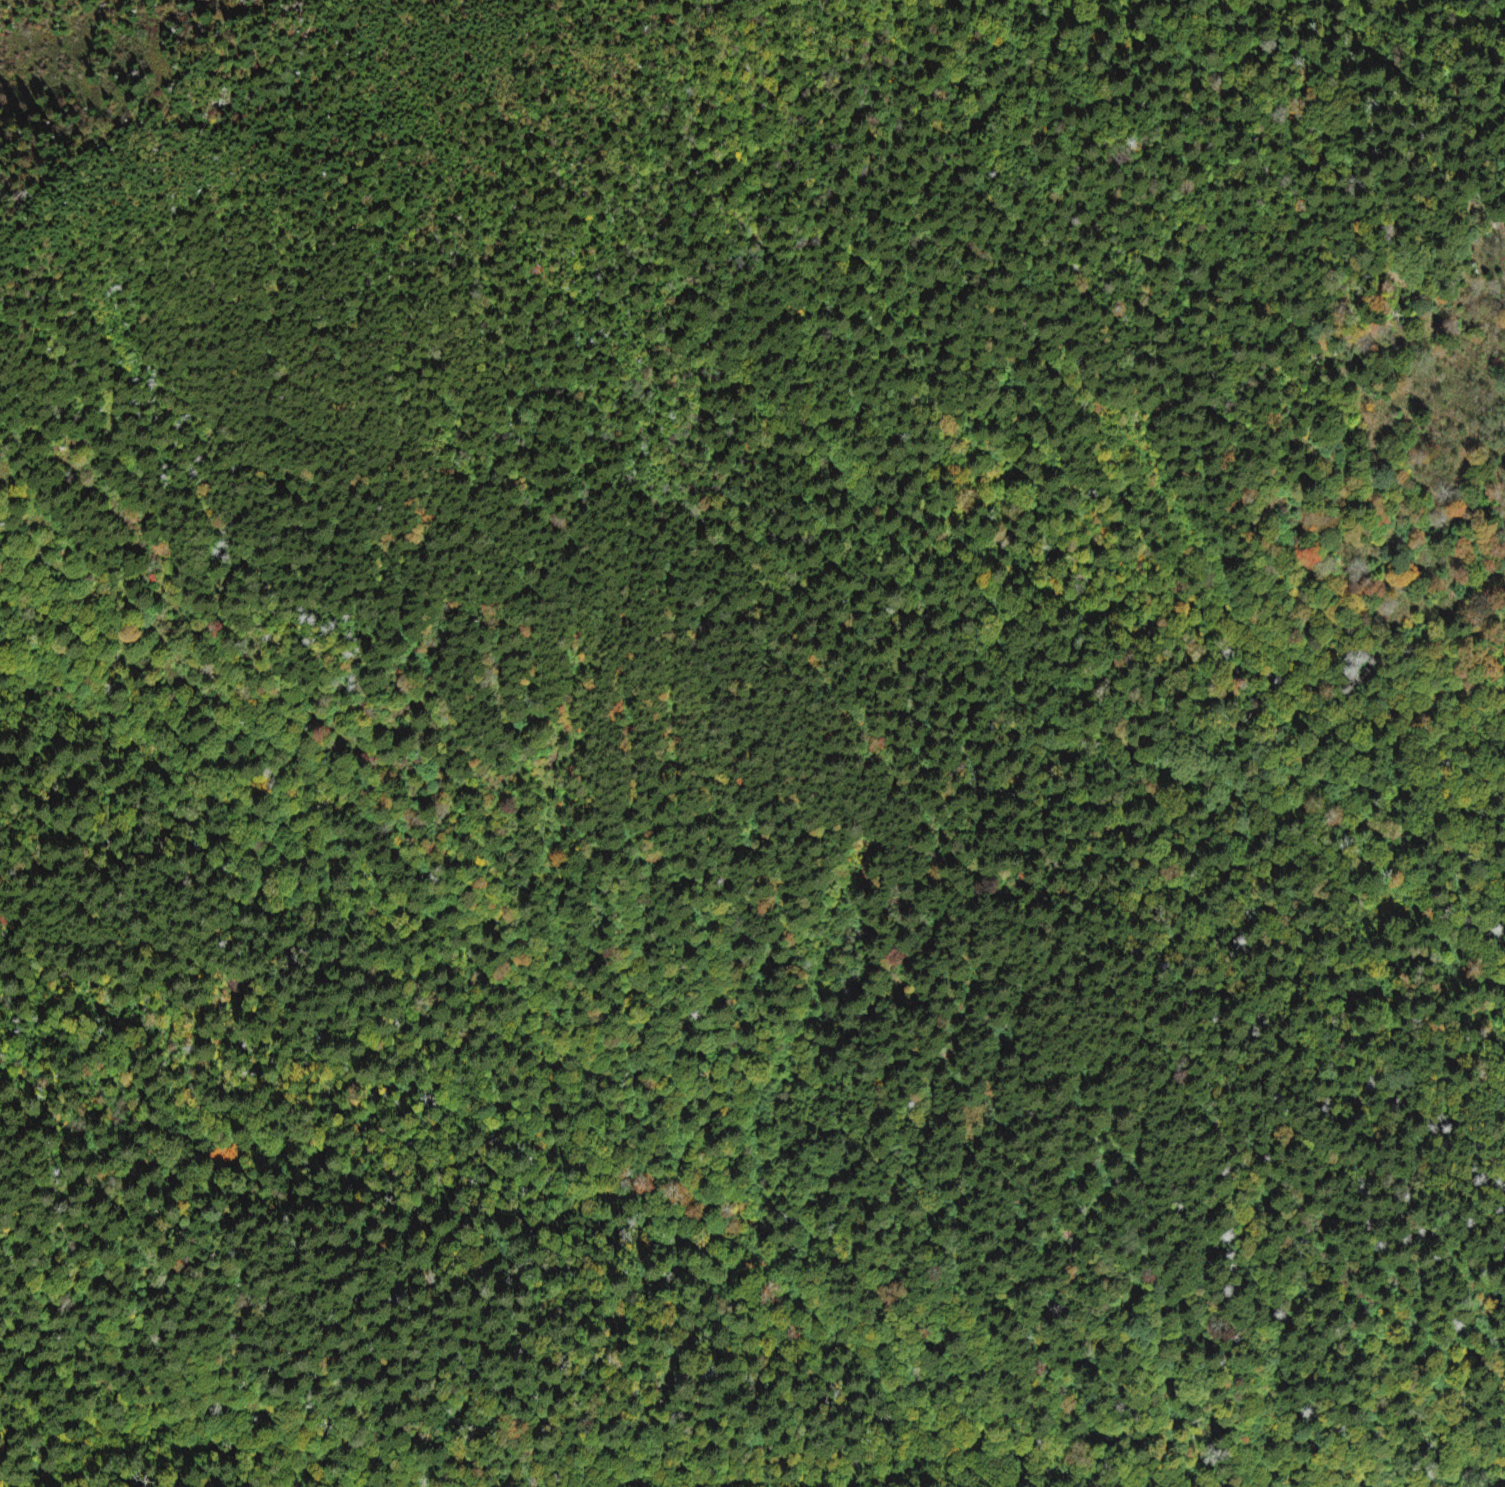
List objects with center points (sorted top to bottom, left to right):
river: (945, 1430)

